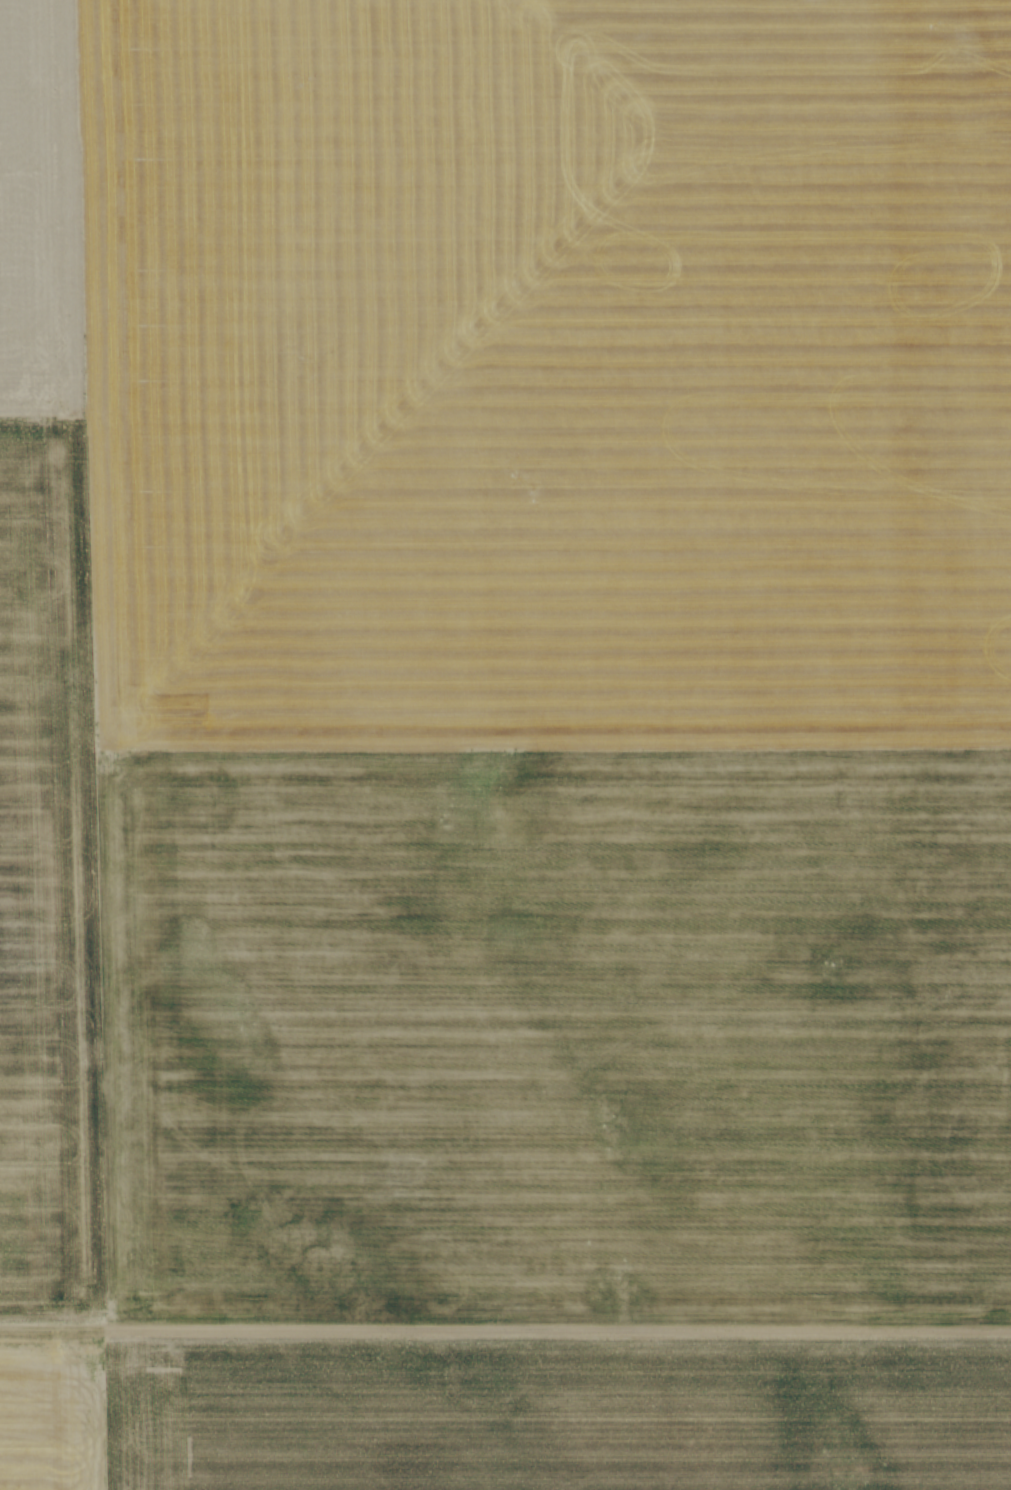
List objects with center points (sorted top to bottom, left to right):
crop: (499, 673)

